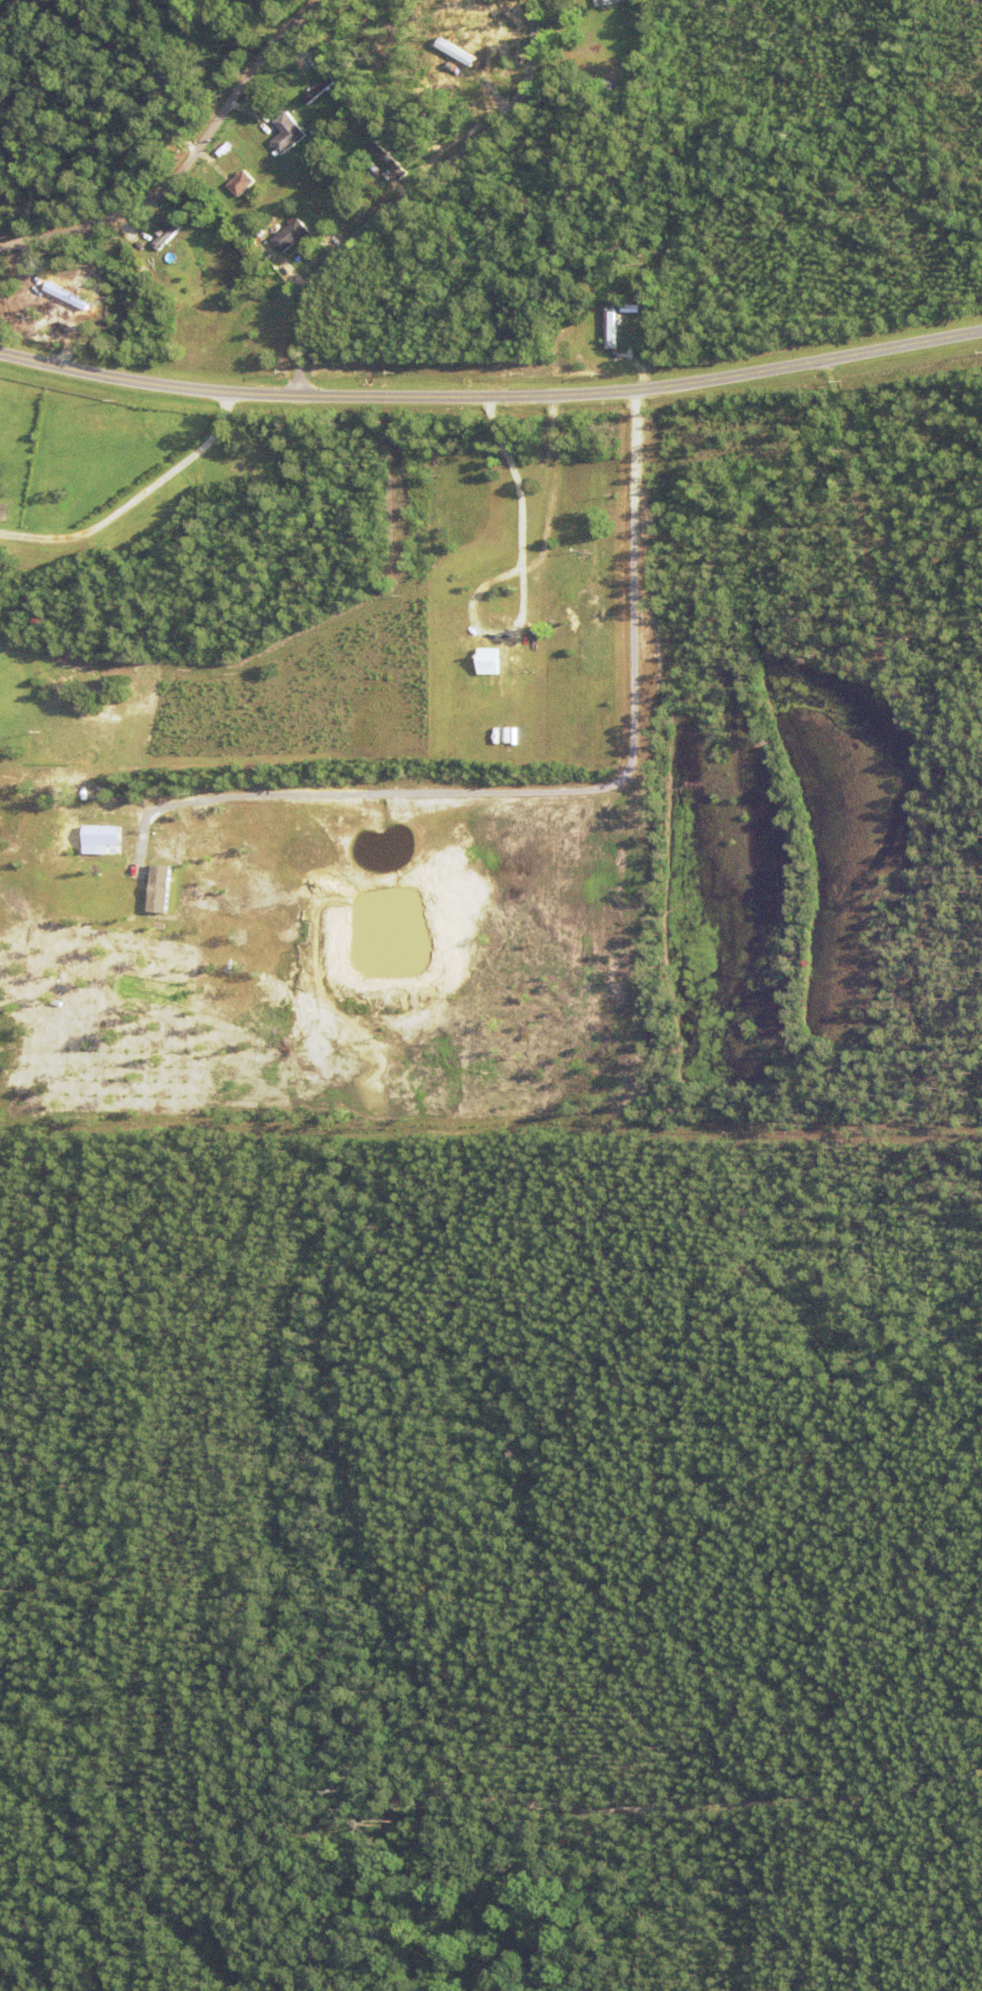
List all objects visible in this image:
building: (610, 3)
building: (239, 4)
building: (609, 16)
building: (86, 21)
building: (102, 23)
building: (205, 37)
building: (319, 85)
building: (610, 86)
building: (372, 124)
building: (287, 134)
building: (373, 140)
building: (220, 148)
building: (400, 155)
road: (187, 158)
building: (390, 161)
building: (242, 185)
building: (3, 190)
road: (414, 202)
building: (251, 225)
building: (342, 230)
building: (164, 233)
building: (170, 234)
building: (292, 237)
building: (175, 257)
building: (622, 295)
building: (563, 313)
building: (607, 327)
building: (565, 336)
building: (601, 338)
road: (491, 399)
road: (134, 498)
road: (550, 504)
building: (488, 661)
building: (157, 887)

